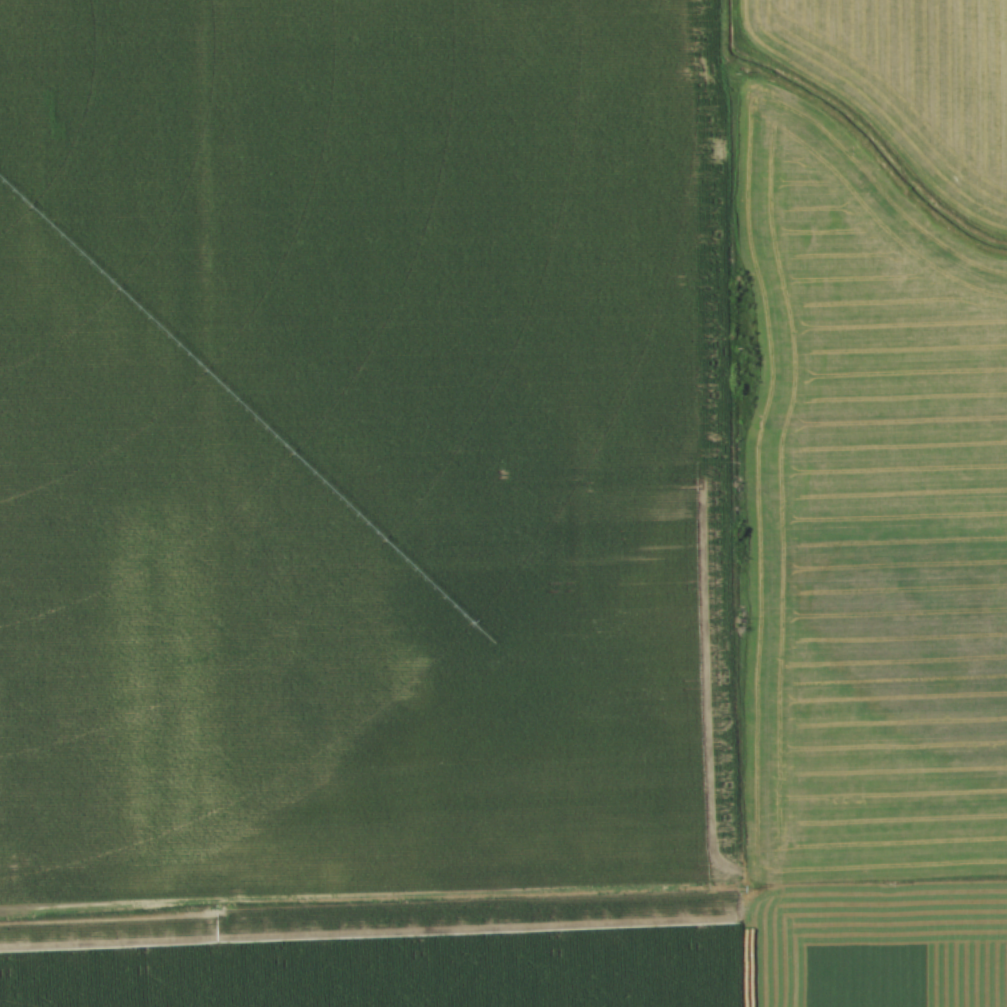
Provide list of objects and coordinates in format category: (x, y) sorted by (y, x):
crop: (909, 82)
crop: (484, 523)

